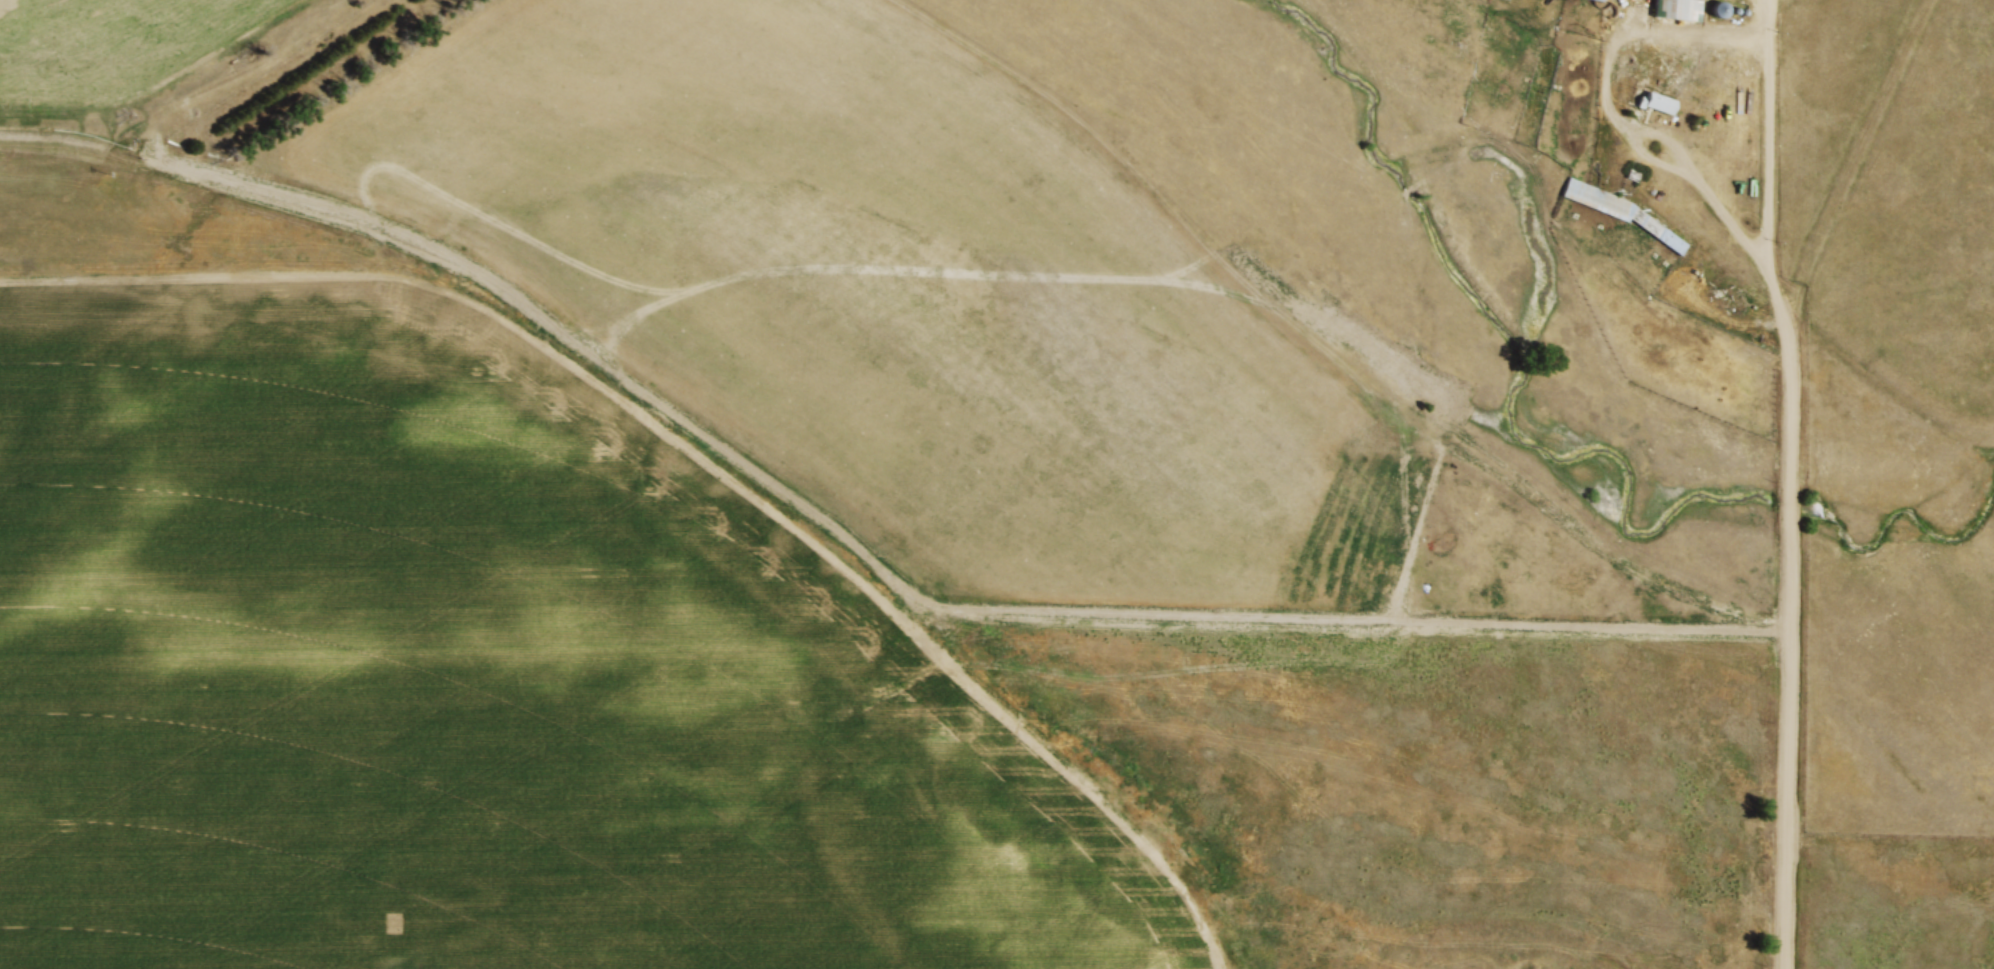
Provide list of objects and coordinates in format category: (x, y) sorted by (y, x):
building: (1602, 0)
building: (1678, 10)
building: (1659, 103)
road: (1620, 130)
road: (1770, 133)
building: (1637, 218)
road: (1793, 641)

